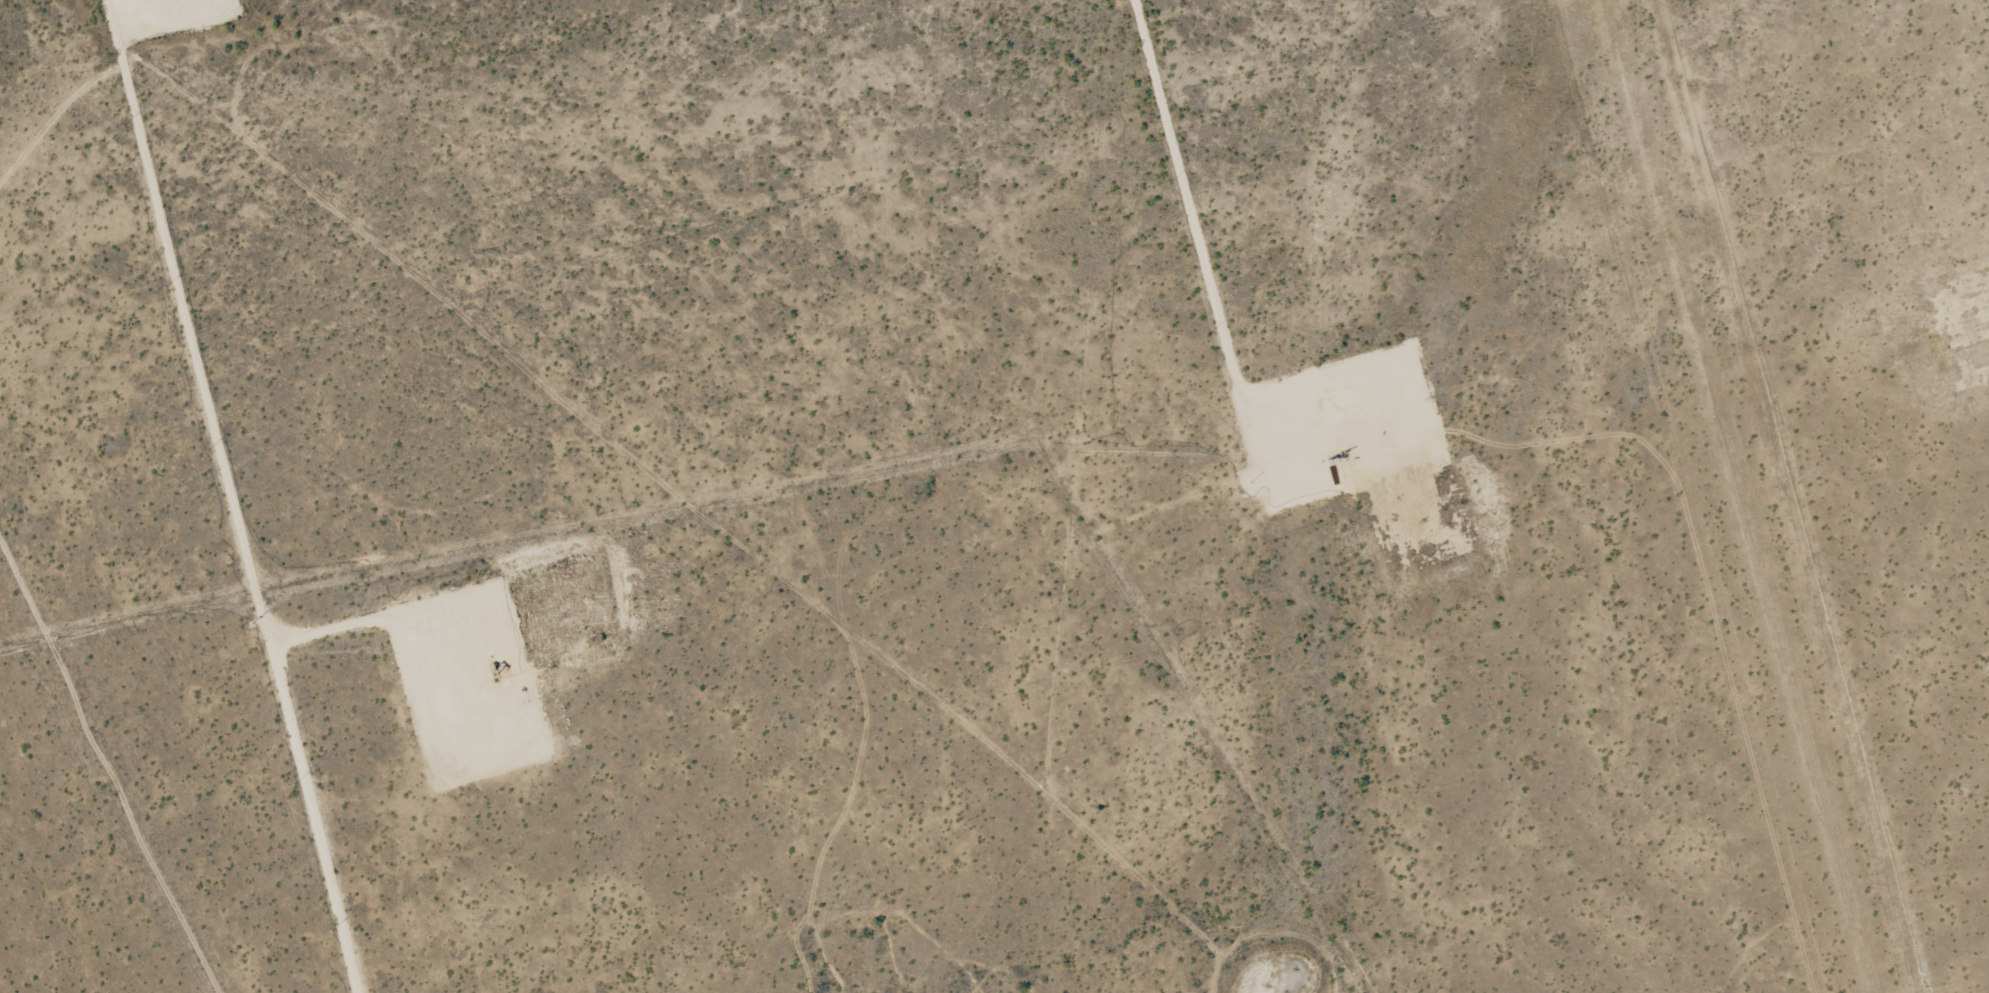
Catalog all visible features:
road: (1205, 254)

